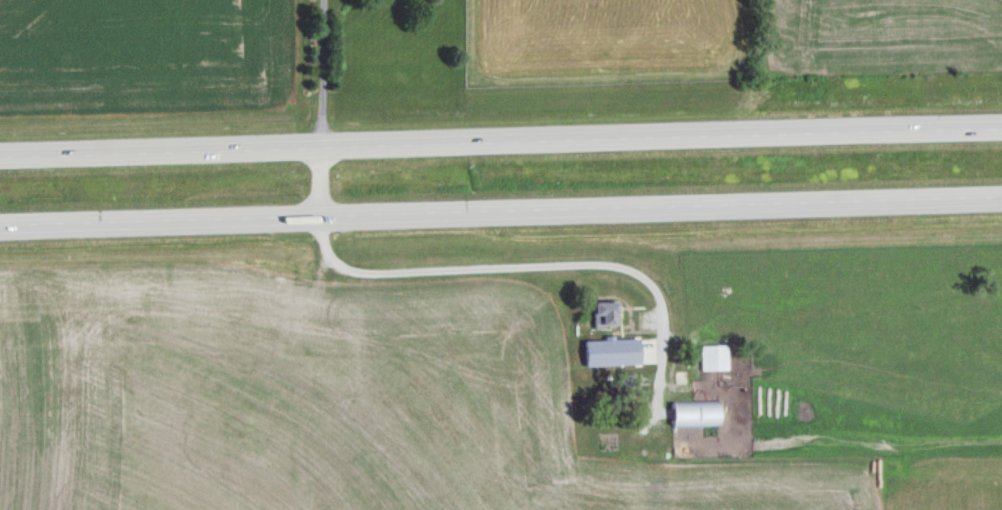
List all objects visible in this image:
road: (323, 111)
road: (500, 140)
road: (501, 216)
road: (506, 272)
building: (602, 313)
building: (691, 413)

